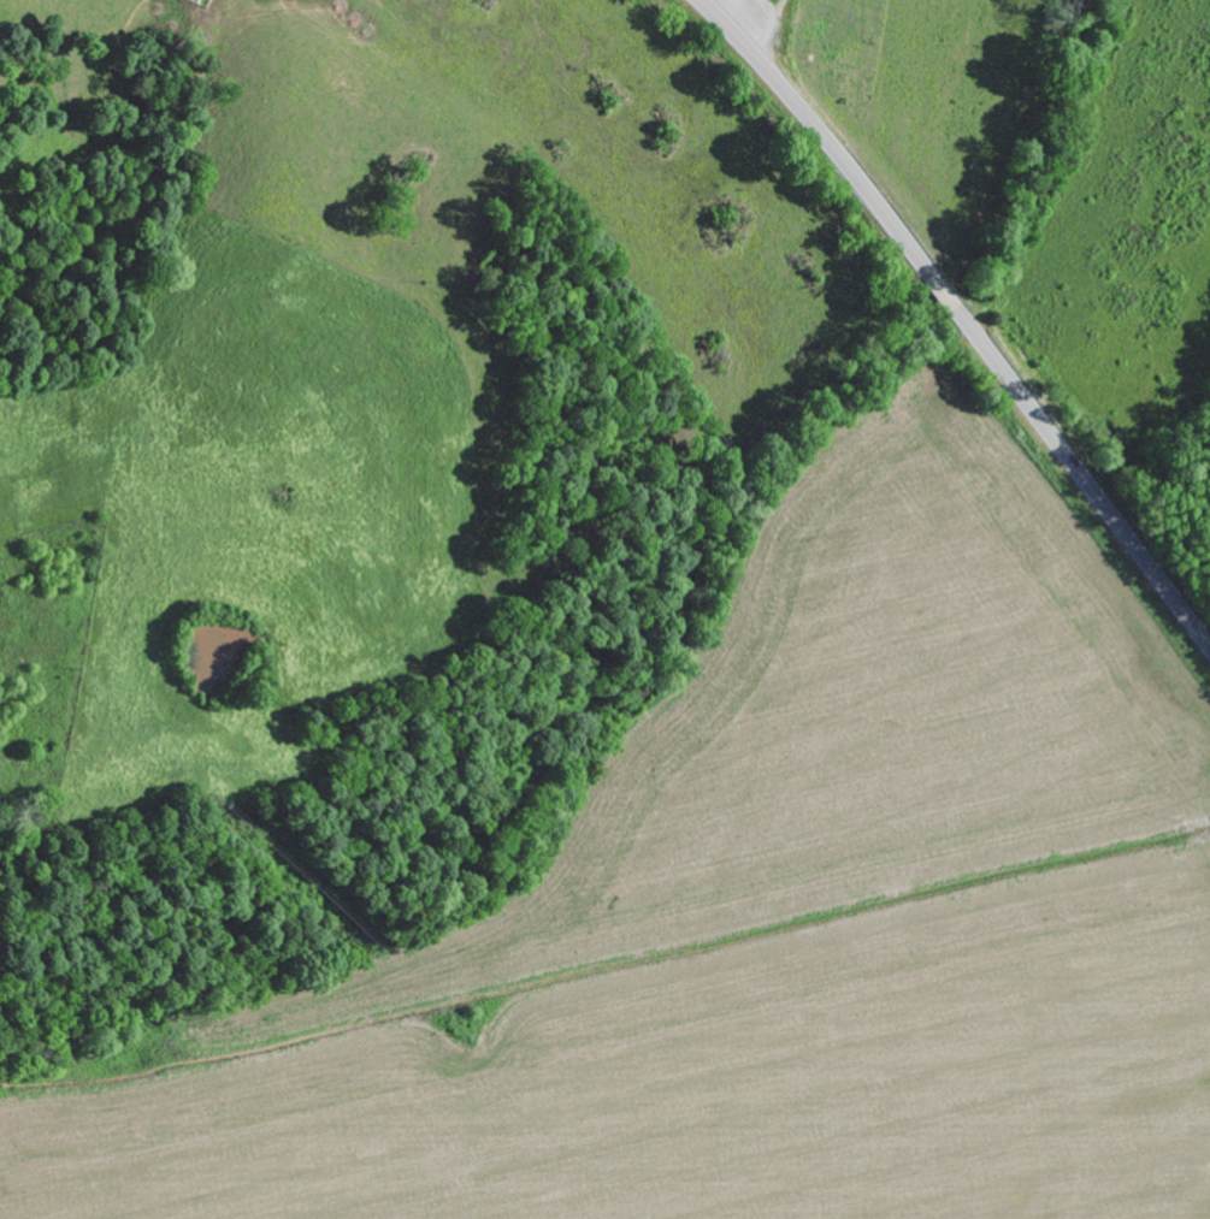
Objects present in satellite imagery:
road: (961, 318)

